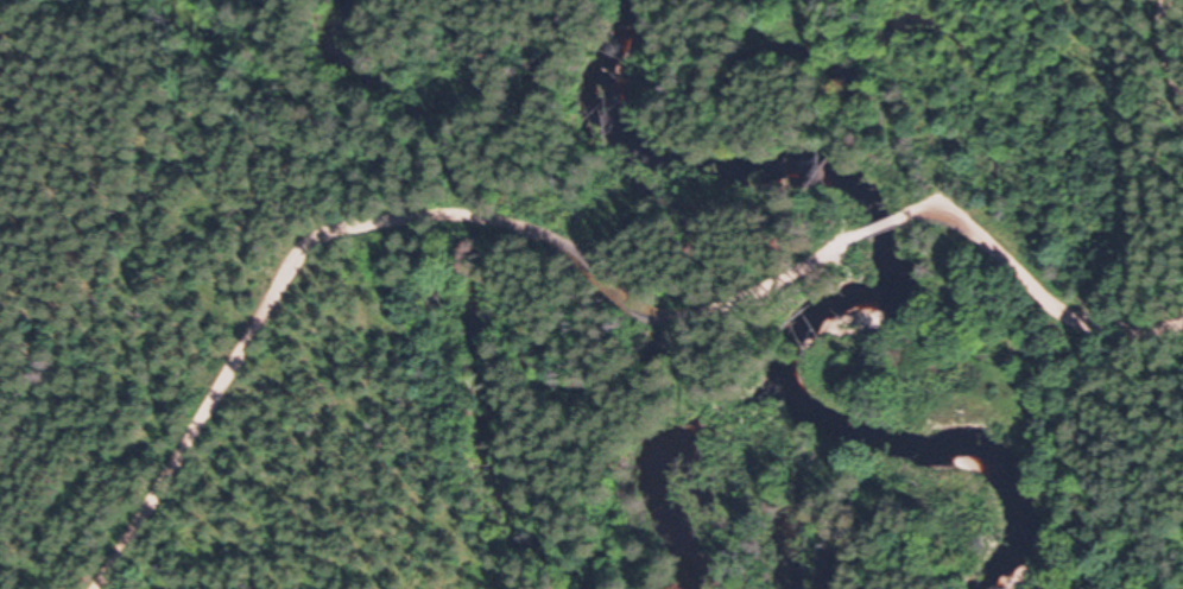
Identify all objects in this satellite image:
road: (524, 252)

